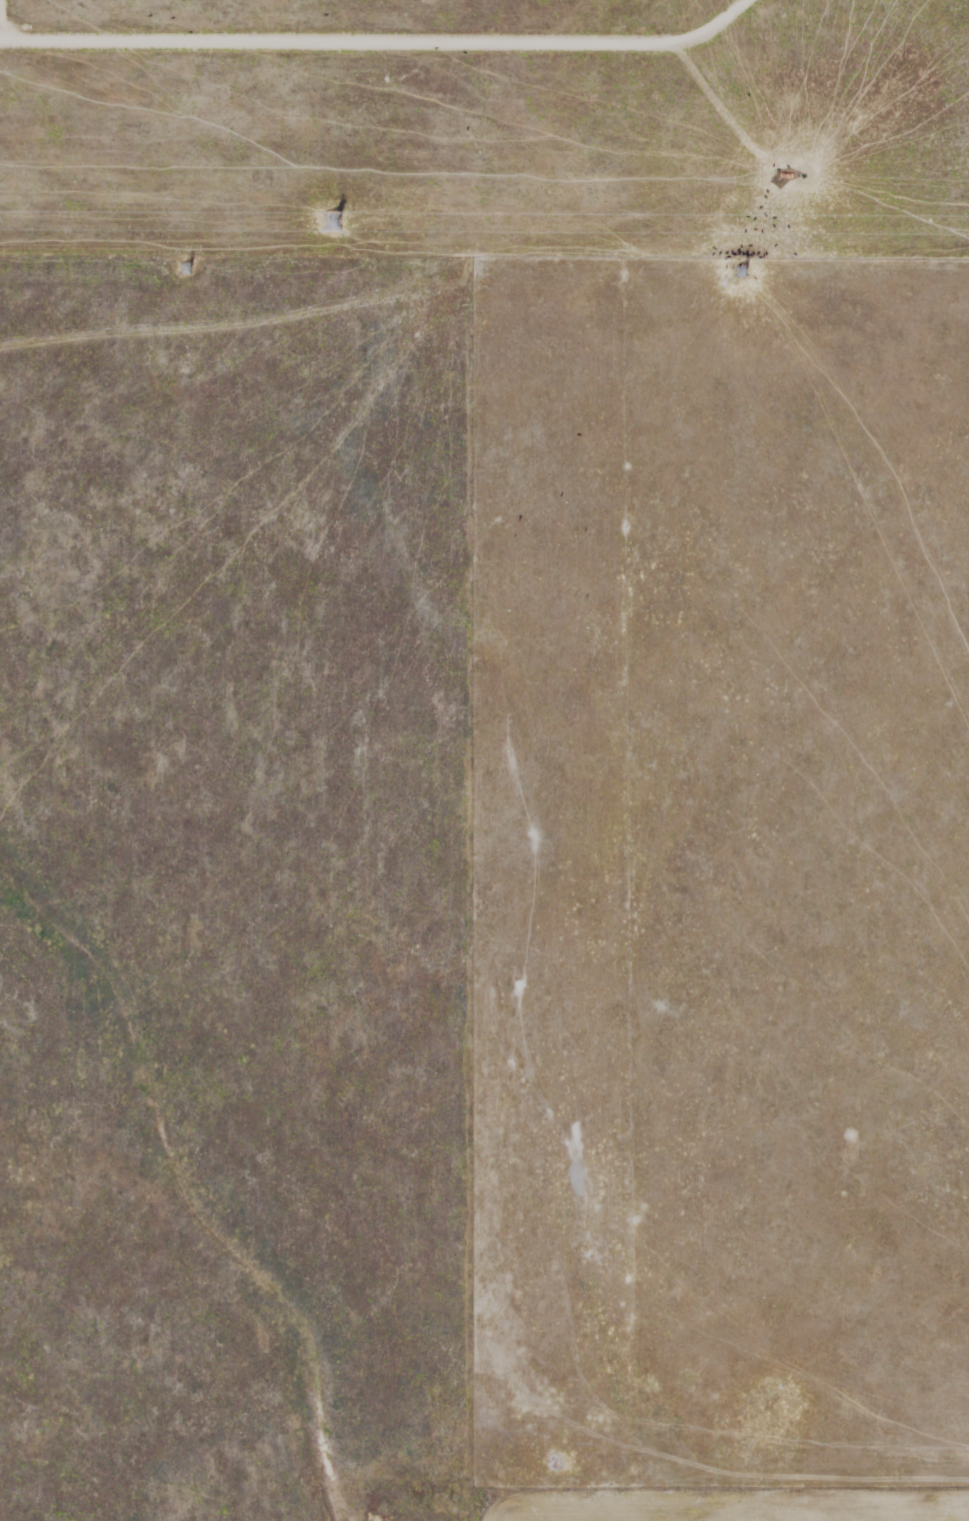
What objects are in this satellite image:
solar farm: (486, 128)
power tower: (326, 221)
power tower: (189, 270)
power tower: (746, 271)

